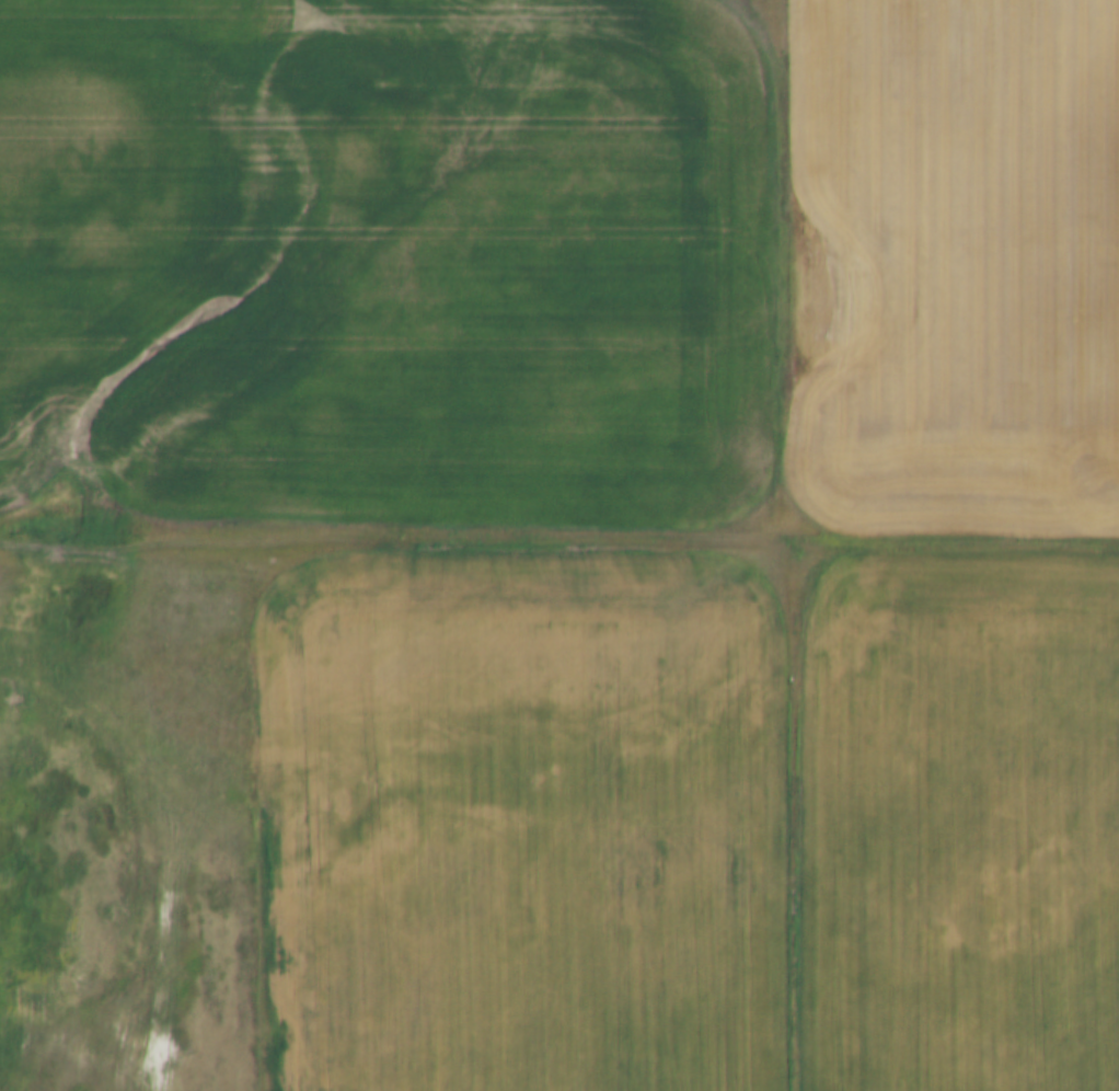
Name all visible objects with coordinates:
road: (559, 538)

